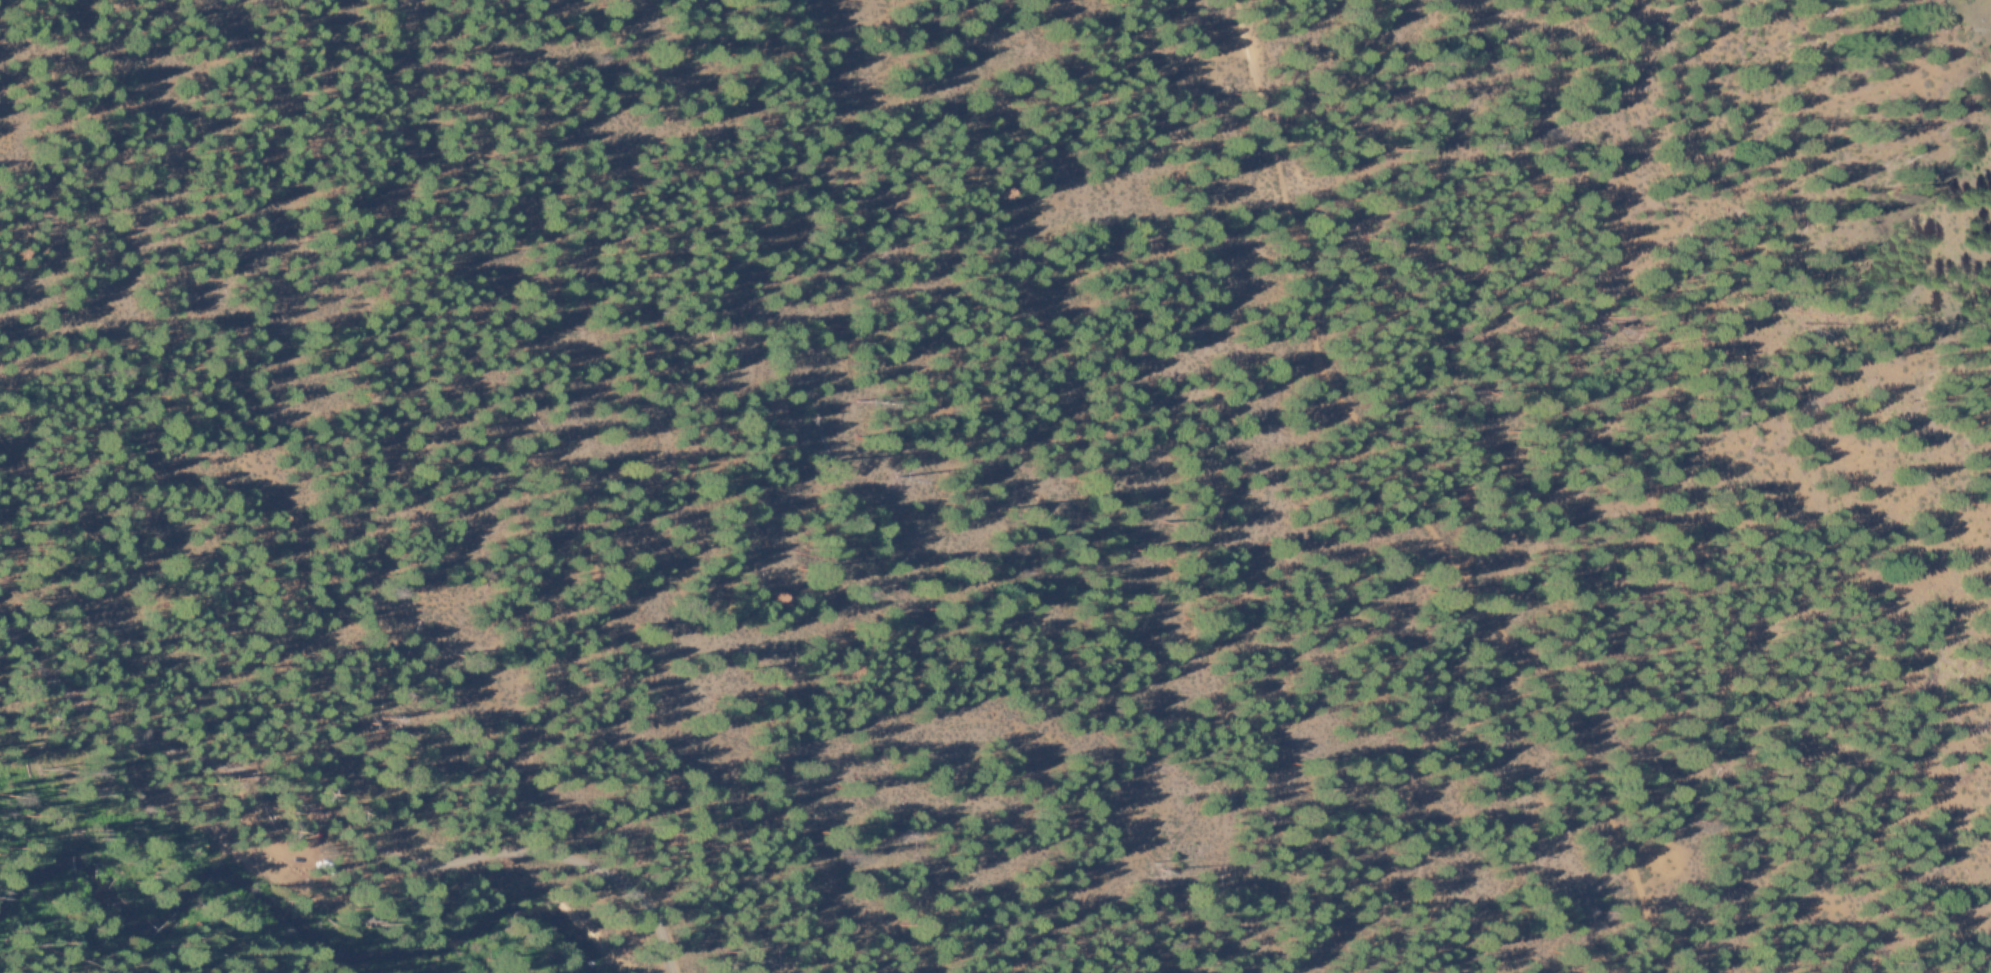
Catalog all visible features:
road: (1425, 506)
road: (323, 820)

